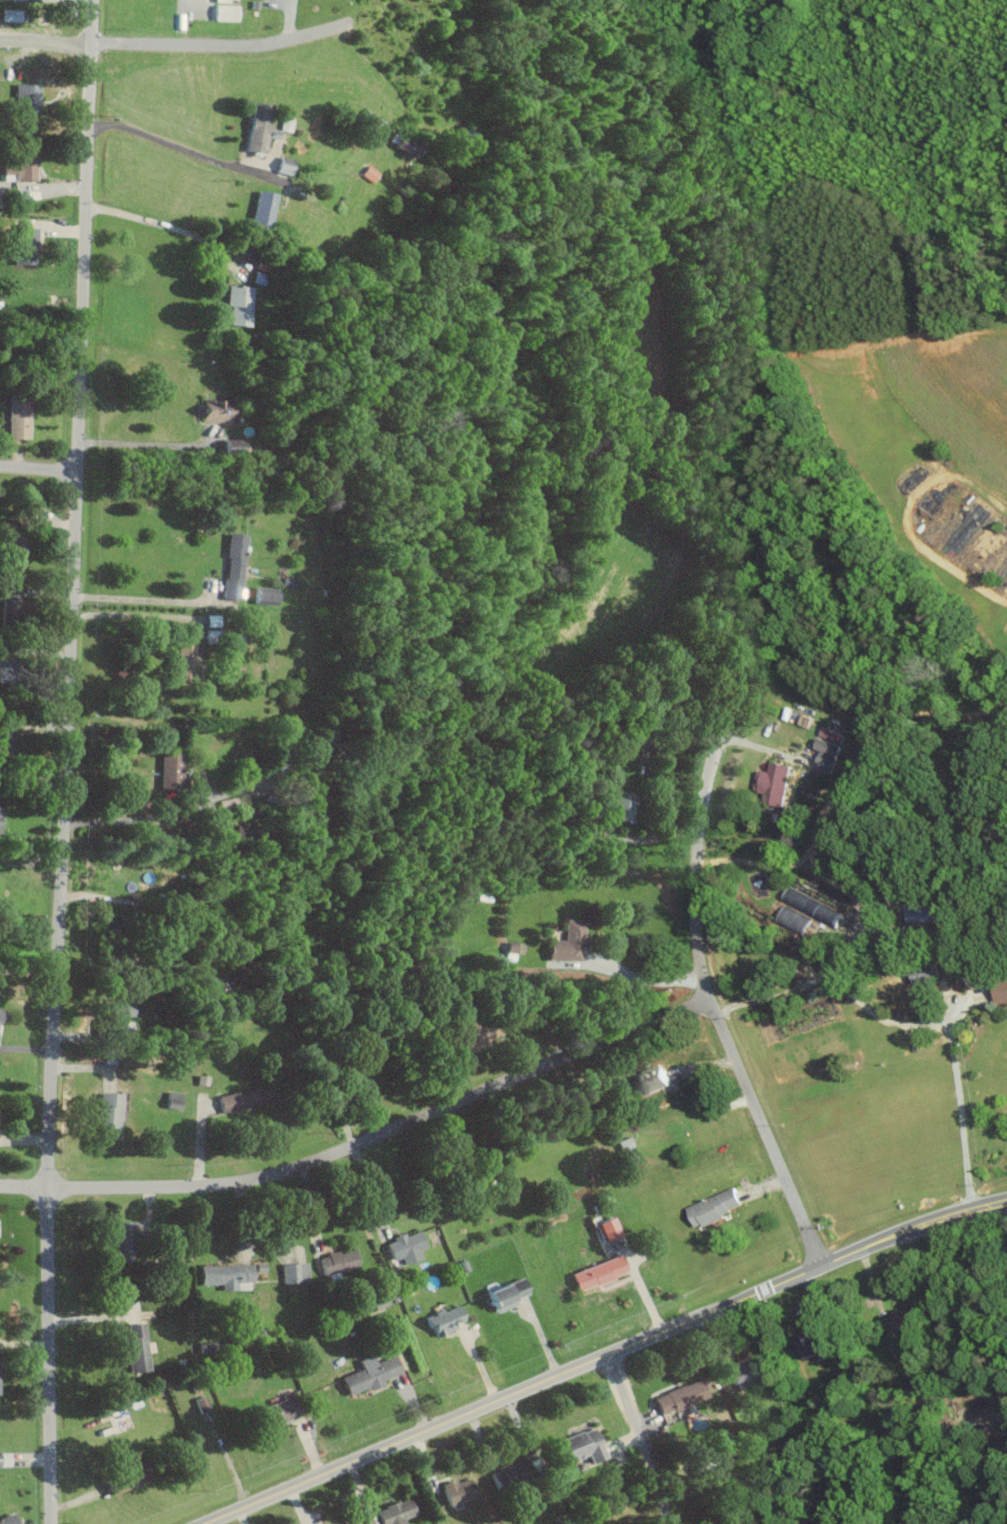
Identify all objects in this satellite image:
building: (24, 0)
building: (67, 10)
building: (224, 12)
building: (8, 14)
road: (46, 41)
road: (210, 45)
park: (702, 91)
building: (24, 98)
building: (257, 127)
road: (184, 148)
building: (18, 166)
building: (369, 173)
building: (261, 210)
road: (169, 227)
building: (23, 246)
building: (236, 305)
building: (211, 411)
building: (16, 417)
road: (148, 443)
building: (229, 447)
road: (39, 468)
building: (962, 530)
building: (12, 548)
building: (232, 565)
building: (1006, 591)
building: (263, 595)
road: (144, 599)
building: (8, 600)
road: (132, 613)
building: (211, 619)
building: (209, 635)
building: (182, 662)
building: (6, 665)
road: (668, 734)
building: (6, 740)
building: (825, 750)
road: (67, 762)
building: (170, 769)
building: (771, 783)
building: (227, 802)
building: (621, 809)
road: (159, 816)
road: (655, 837)
road: (743, 858)
road: (31, 860)
building: (809, 906)
building: (920, 910)
building: (790, 919)
road: (855, 936)
building: (566, 942)
building: (921, 972)
road: (644, 978)
building: (999, 988)
road: (710, 999)
road: (879, 1014)
building: (113, 1016)
building: (473, 1035)
building: (359, 1068)
building: (649, 1078)
building: (200, 1079)
building: (240, 1097)
building: (172, 1099)
building: (104, 1115)
building: (626, 1150)
road: (334, 1153)
road: (371, 1190)
building: (711, 1206)
building: (604, 1228)
building: (120, 1241)
building: (404, 1246)
building: (336, 1261)
building: (293, 1272)
building: (596, 1272)
building: (222, 1274)
building: (504, 1294)
building: (379, 1302)
building: (903, 1319)
building: (443, 1320)
building: (808, 1343)
building: (134, 1347)
road: (604, 1357)
building: (741, 1369)
building: (369, 1373)
building: (678, 1396)
building: (201, 1404)
building: (971, 1405)
building: (275, 1412)
road: (1006, 1432)
road: (642, 1438)
building: (576, 1447)
building: (4, 1459)
building: (124, 1479)
building: (456, 1490)
building: (390, 1513)
building: (6, 1519)
building: (348, 1522)

